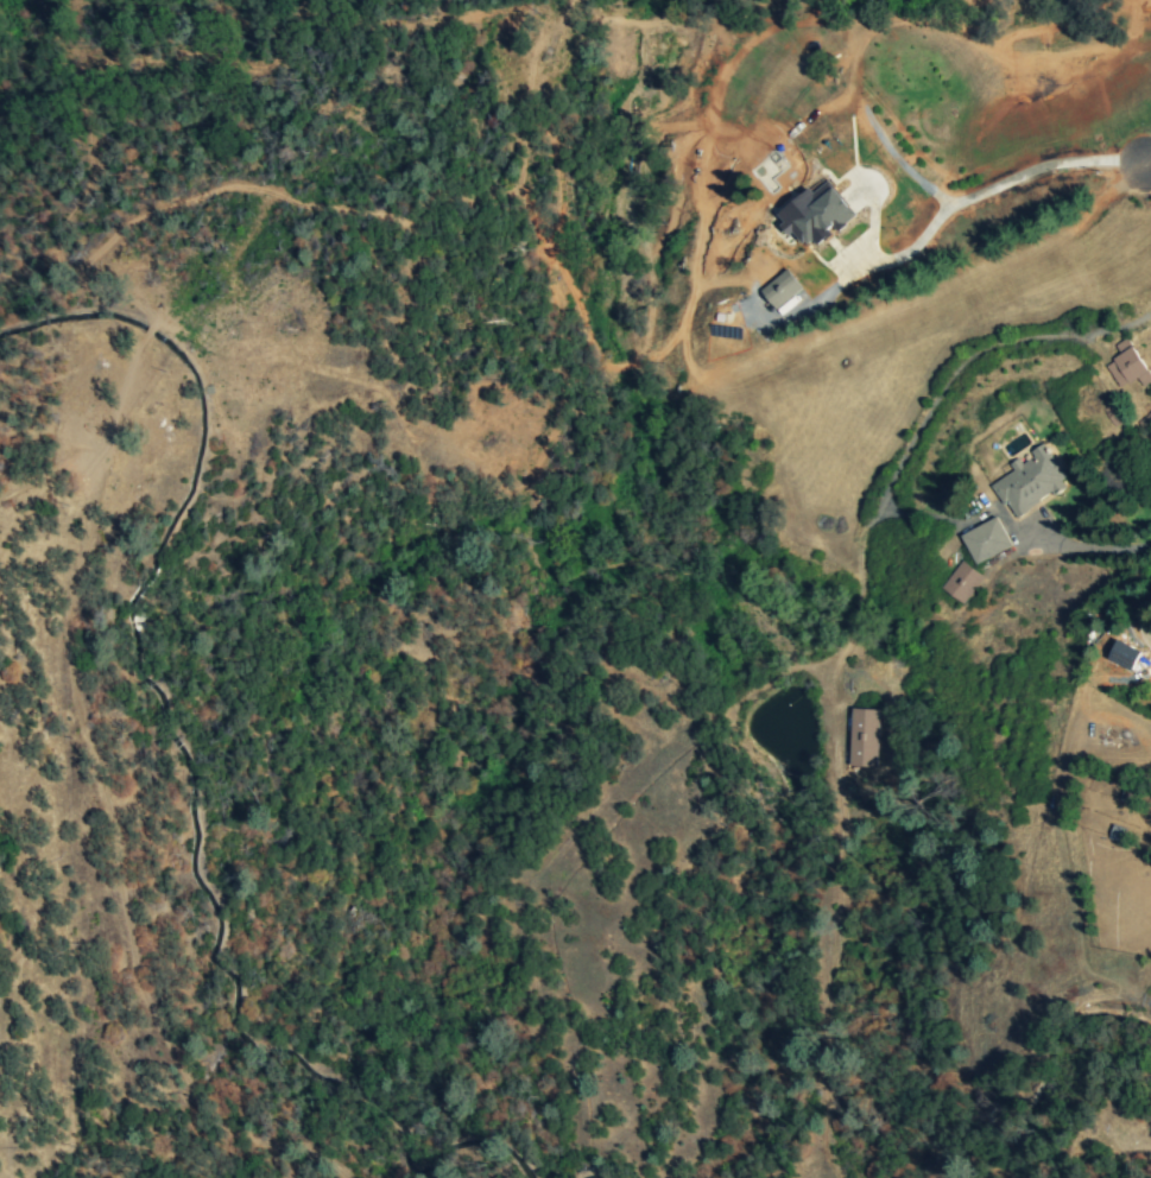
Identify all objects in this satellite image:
road: (1149, 161)
road: (959, 196)
building: (815, 214)
building: (782, 289)
building: (1127, 365)
road: (892, 474)
building: (1030, 481)
building: (986, 540)
building: (962, 582)
road: (1138, 622)
road: (852, 629)
building: (1124, 655)
building: (864, 737)

